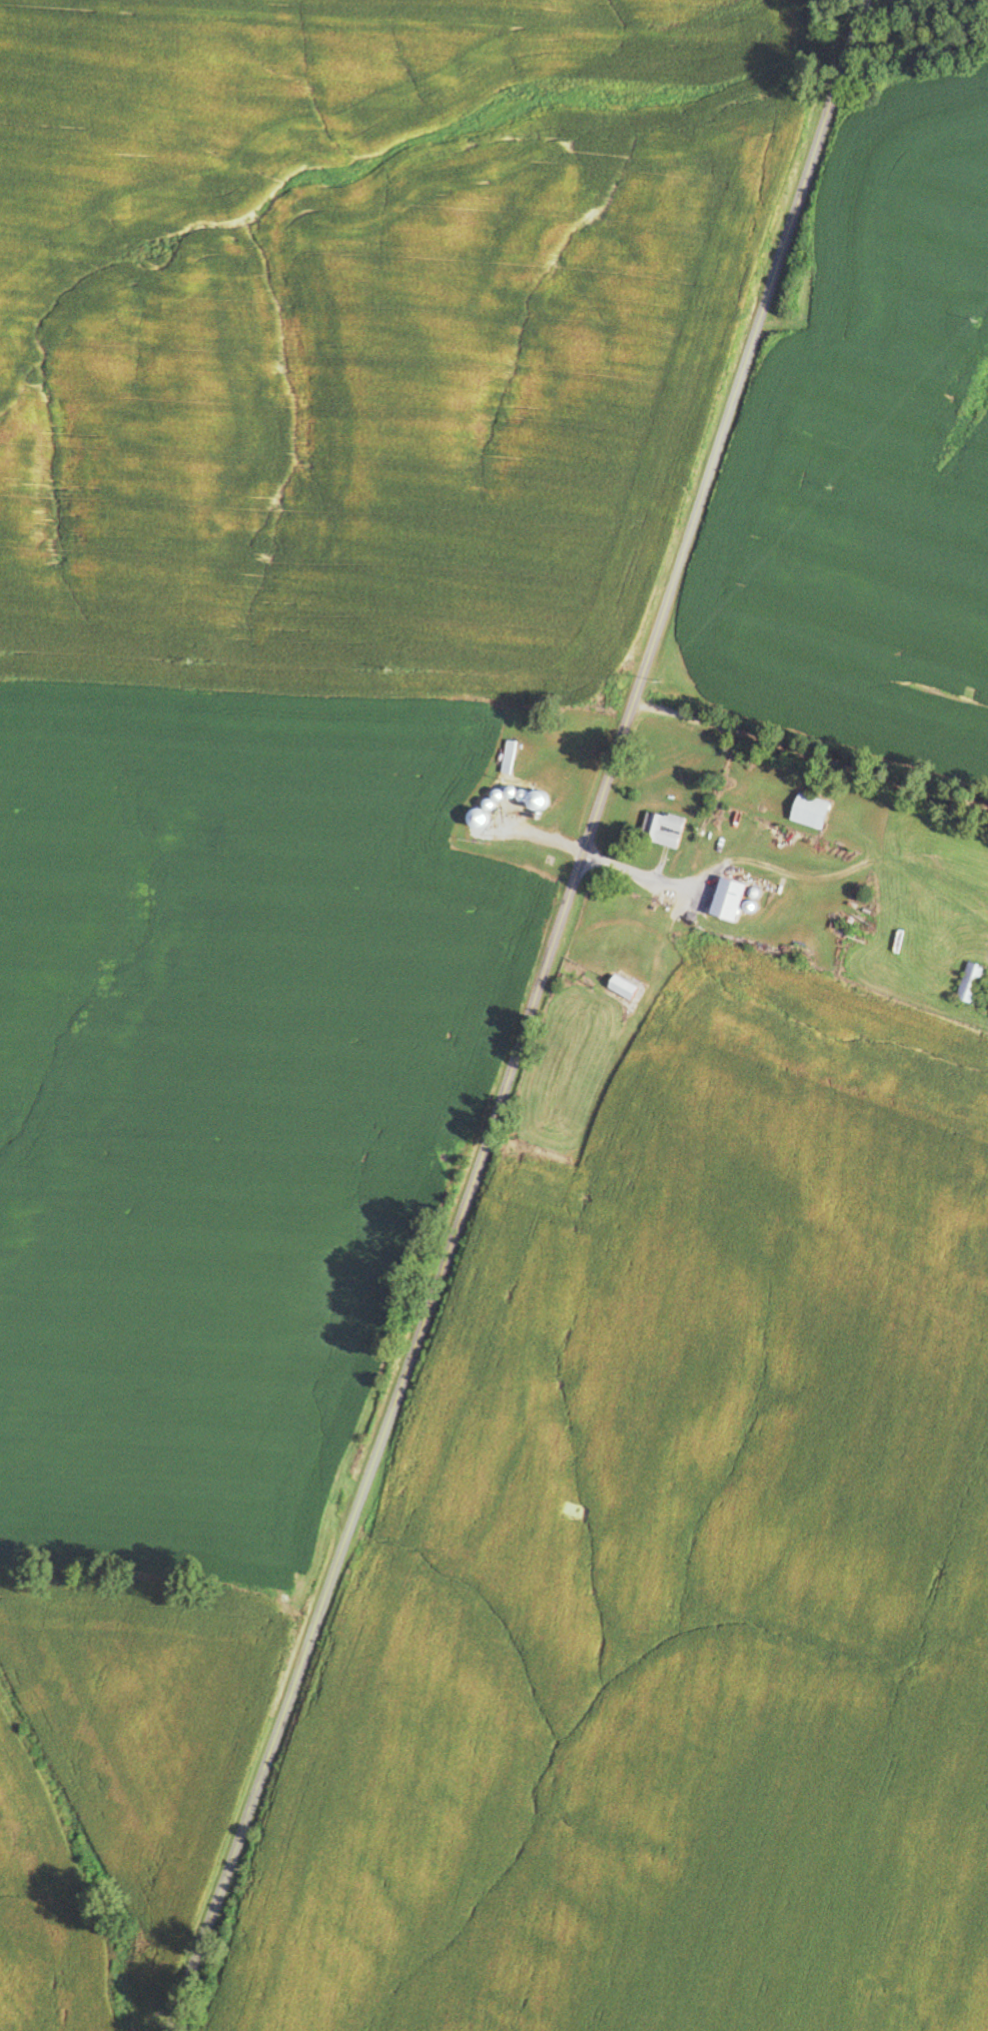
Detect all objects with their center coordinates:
road: (811, 756)
building: (512, 758)
building: (814, 812)
building: (667, 829)
building: (732, 901)
building: (973, 983)
building: (627, 988)
road: (530, 1018)

